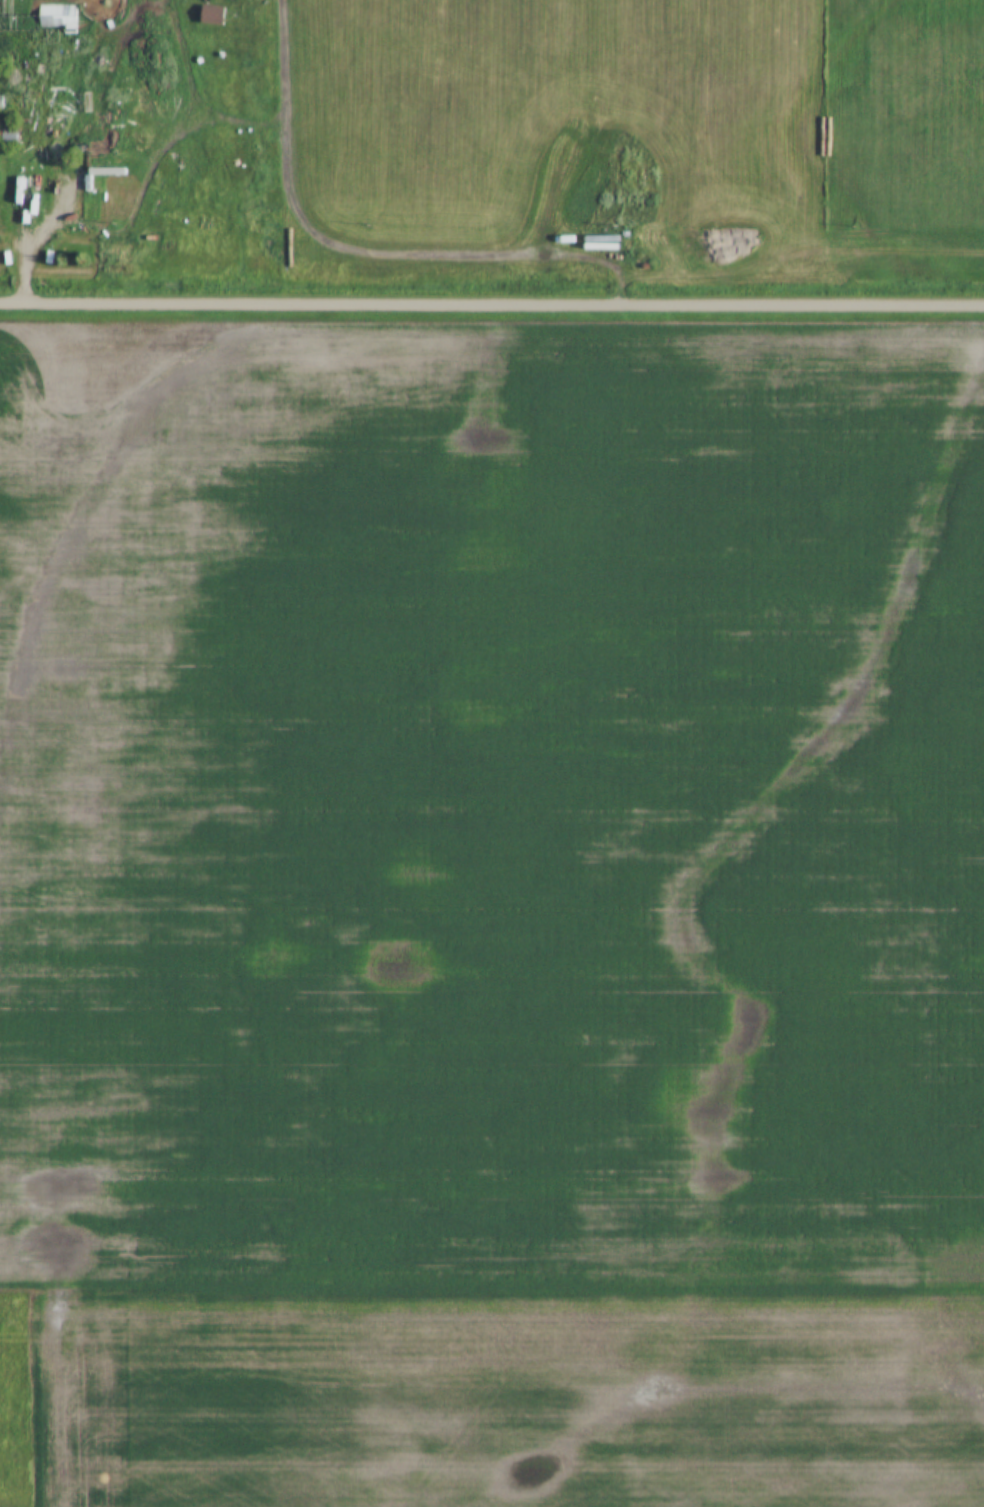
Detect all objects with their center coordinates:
building: (99, 72)
building: (9, 137)
building: (81, 163)
road: (25, 212)
road: (491, 305)

